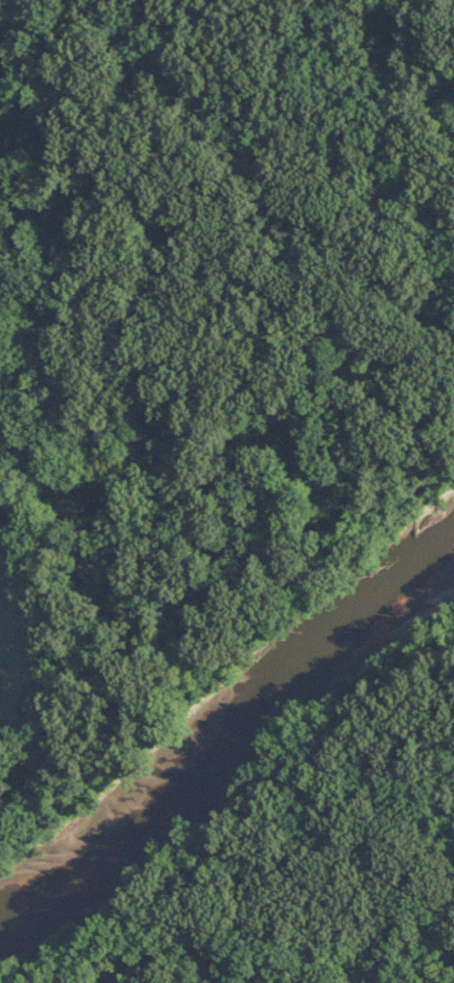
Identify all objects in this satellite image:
river: (219, 728)

